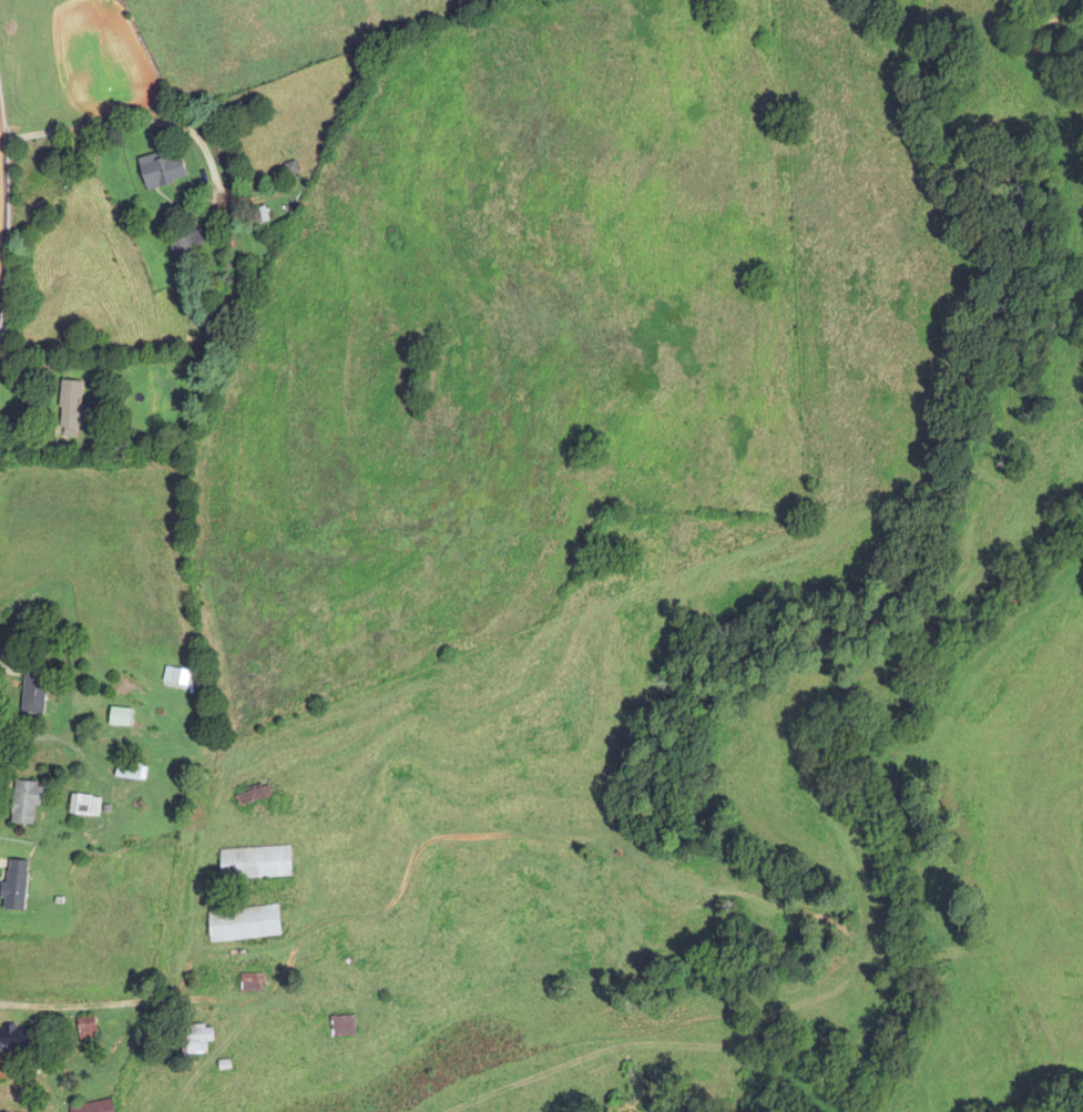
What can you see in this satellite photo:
road: (126, 124)
building: (159, 170)
road: (1, 202)
building: (257, 215)
building: (187, 242)
building: (31, 691)
building: (118, 717)
road: (55, 739)
building: (126, 771)
building: (251, 795)
building: (24, 802)
building: (82, 806)
building: (253, 863)
building: (13, 885)
building: (241, 924)
building: (249, 982)
building: (340, 1027)
building: (85, 1028)
building: (13, 1039)
building: (195, 1039)
building: (92, 1106)

